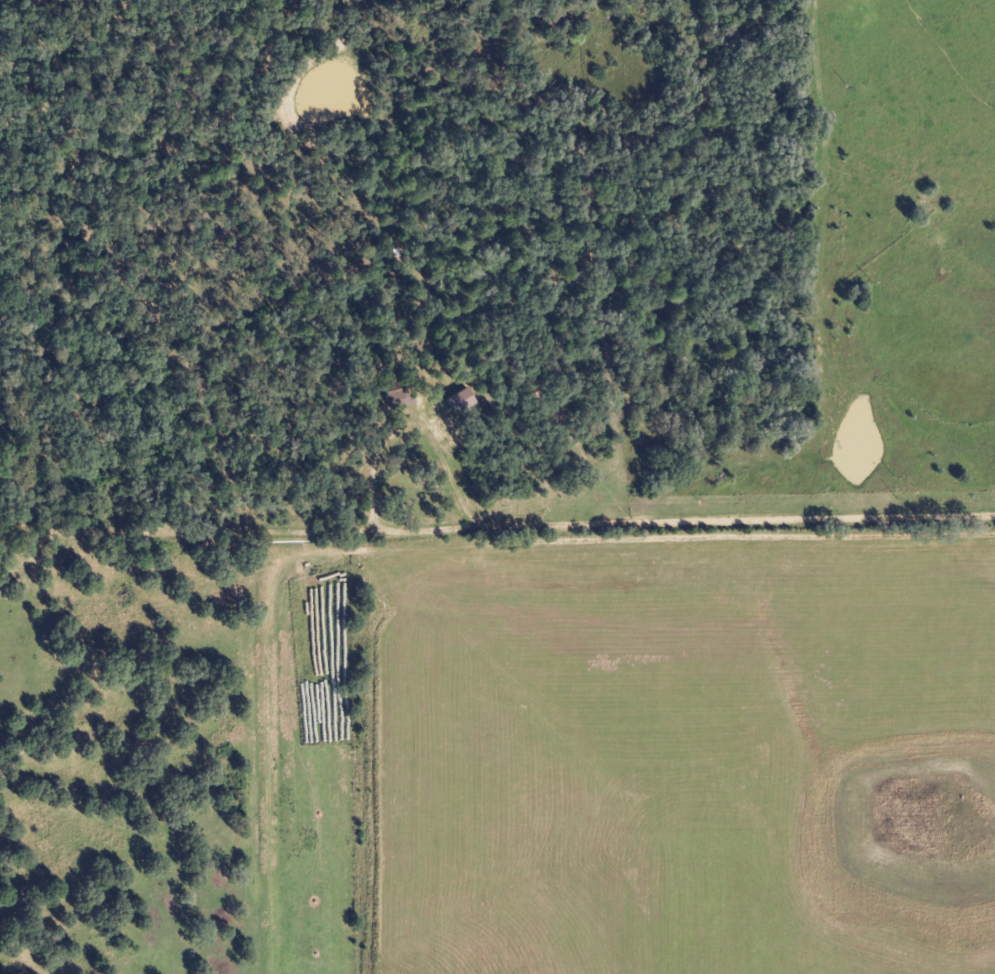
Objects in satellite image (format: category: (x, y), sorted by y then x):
building: (400, 392)
road: (429, 541)

